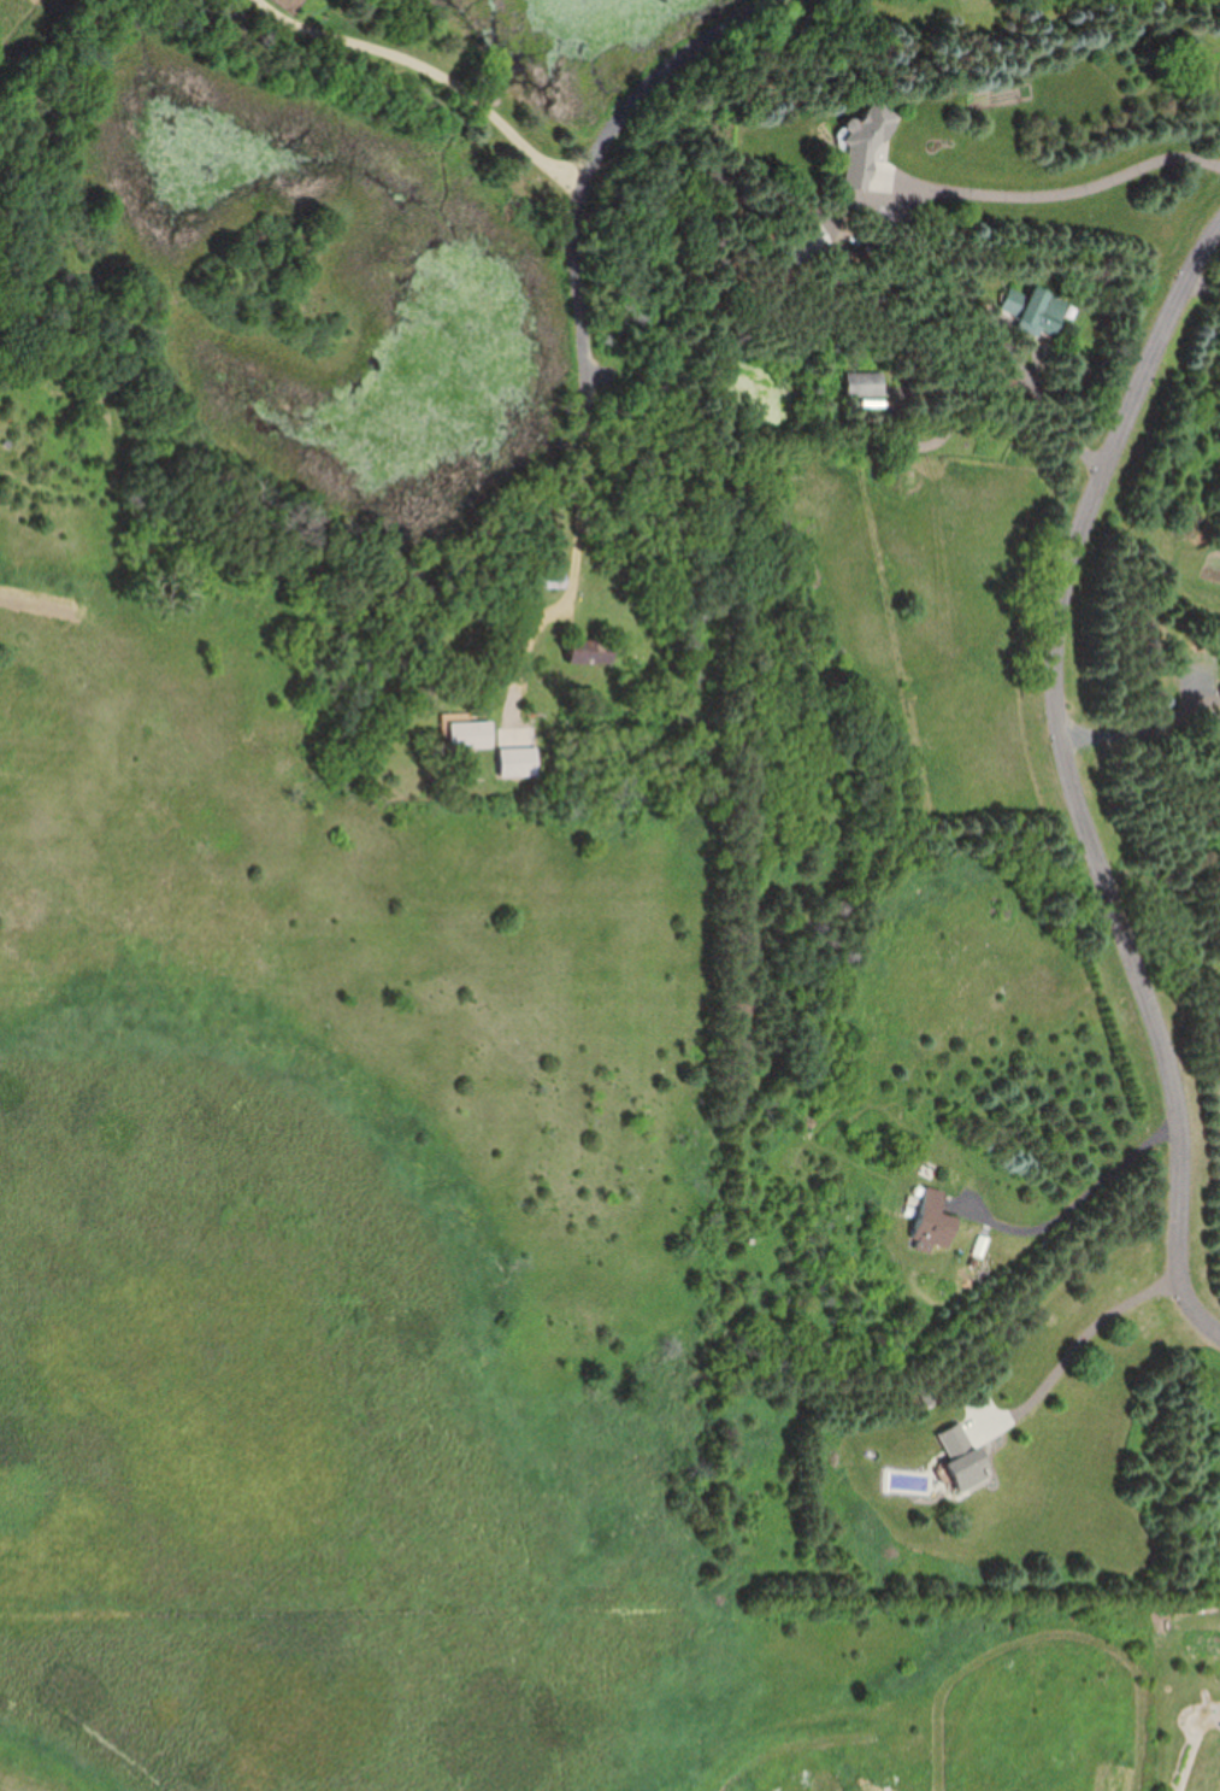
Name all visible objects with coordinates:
road: (434, 71)
building: (864, 149)
road: (1049, 194)
building: (812, 242)
road: (582, 264)
building: (1037, 307)
building: (867, 382)
road: (1009, 440)
building: (552, 580)
building: (591, 651)
road: (1145, 718)
building: (473, 734)
road: (1074, 785)
road: (1069, 1214)
building: (935, 1223)
road: (1079, 1349)
building: (965, 1456)

